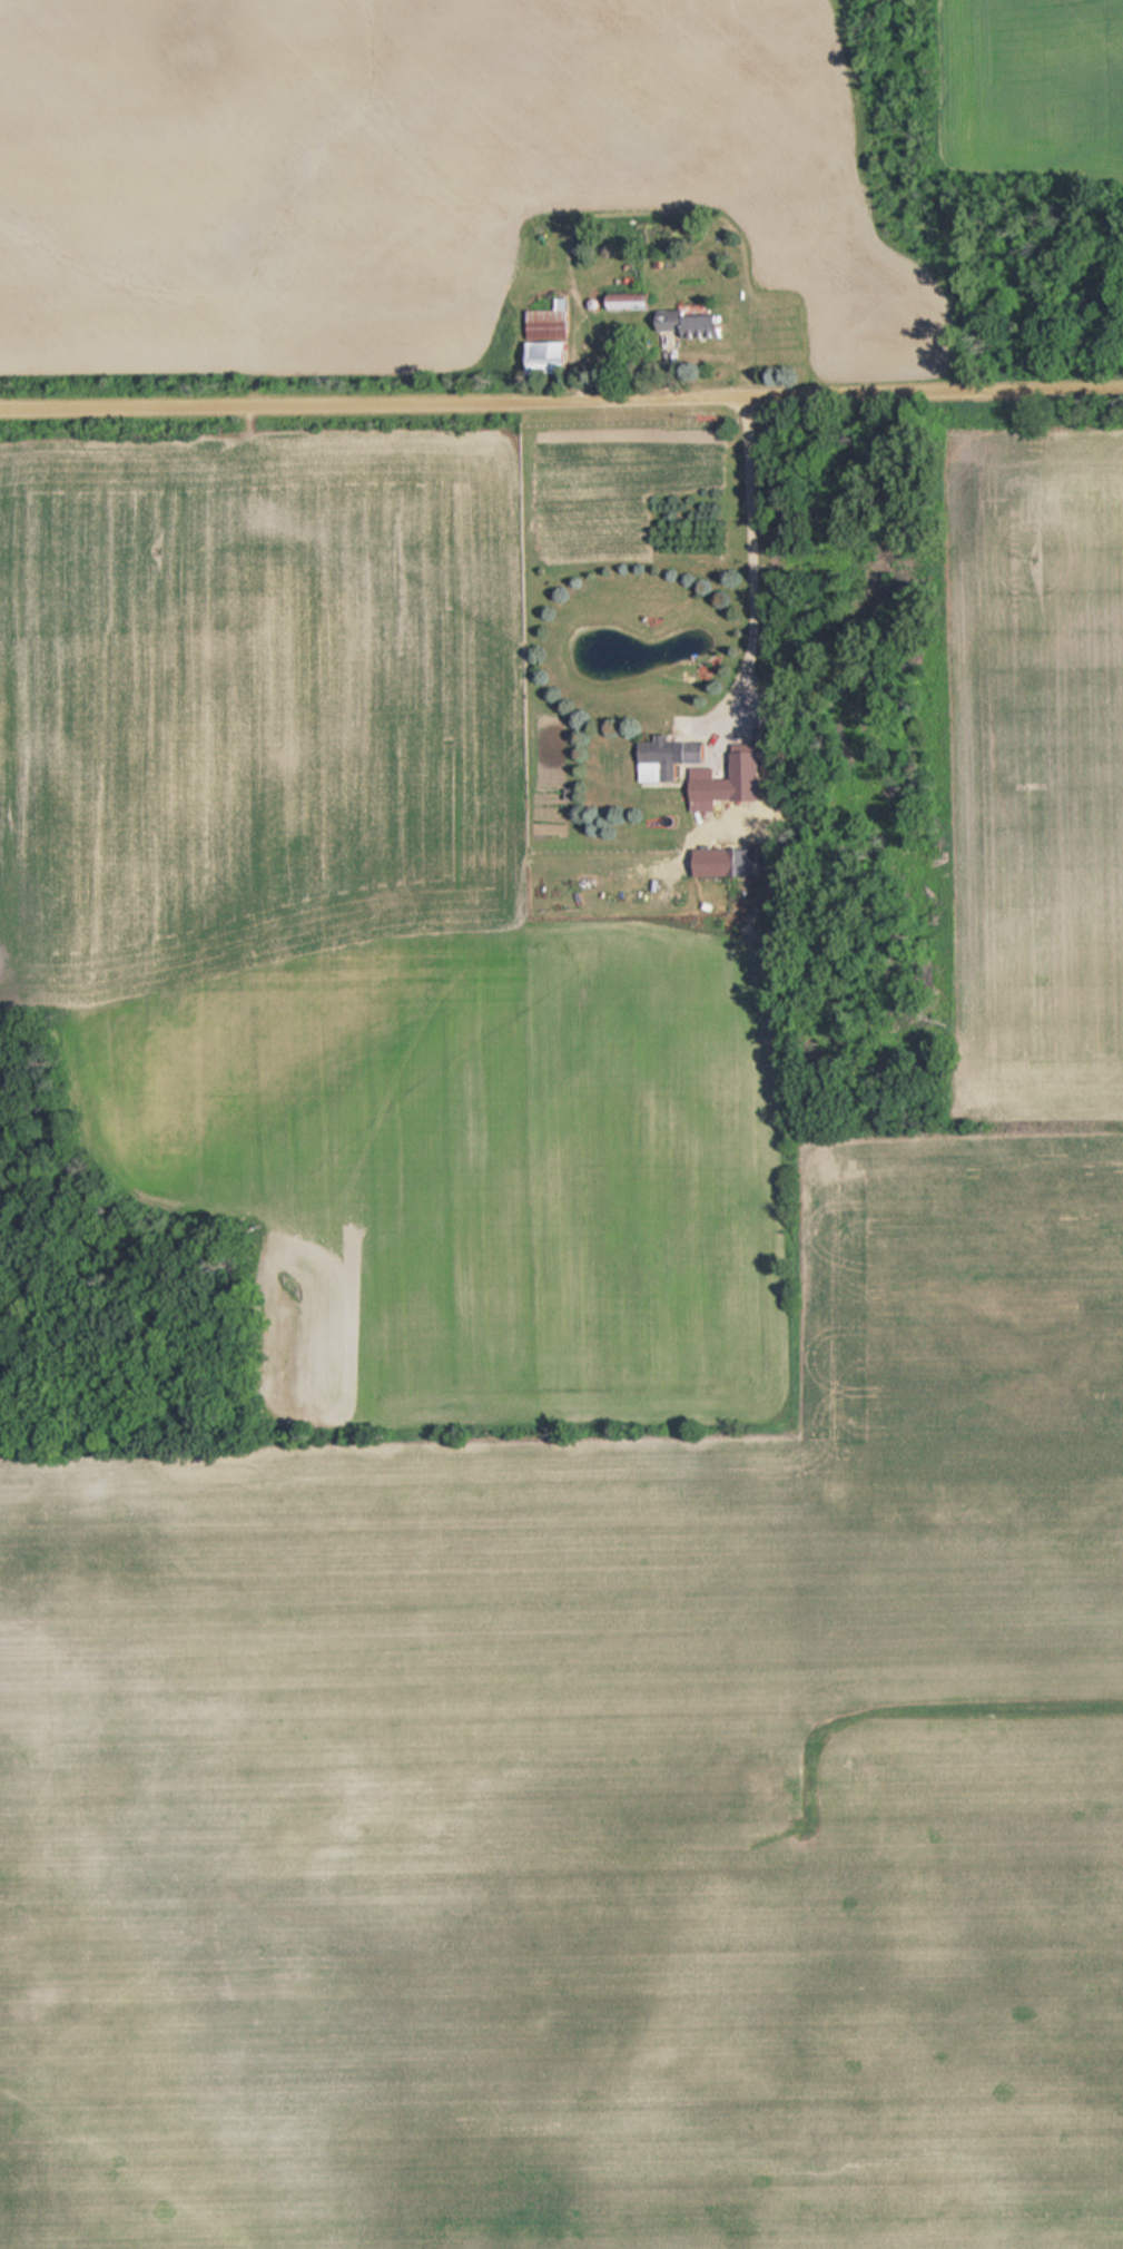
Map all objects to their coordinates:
building: (554, 321)
building: (698, 323)
building: (553, 357)
road: (561, 410)
building: (141, 461)
building: (670, 758)
building: (705, 789)
building: (743, 863)

